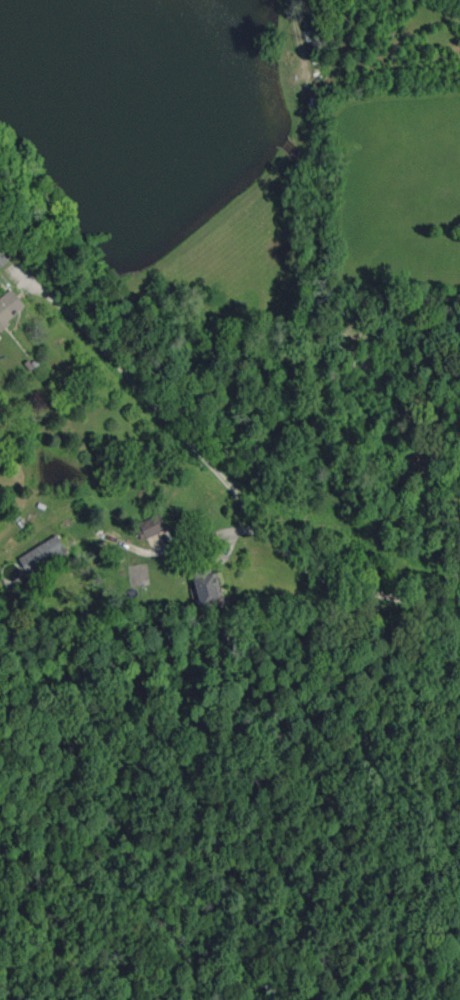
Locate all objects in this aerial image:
building: (2, 259)
building: (9, 307)
building: (167, 469)
road: (223, 475)
building: (151, 526)
road: (217, 535)
building: (42, 554)
building: (206, 583)

